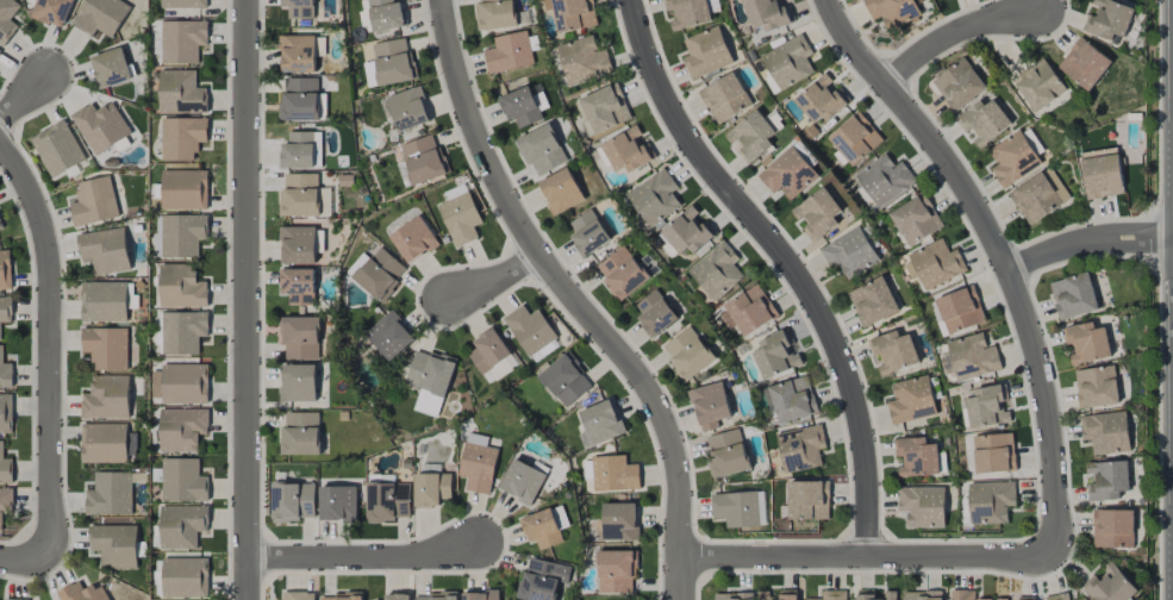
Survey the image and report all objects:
building: (183, 4)
building: (299, 8)
building: (51, 11)
building: (892, 11)
building: (687, 12)
building: (766, 13)
building: (385, 14)
building: (495, 14)
building: (573, 14)
building: (100, 15)
building: (7, 19)
building: (1108, 19)
road: (953, 35)
building: (182, 40)
building: (0, 51)
building: (300, 52)
building: (508, 52)
building: (706, 52)
building: (584, 60)
building: (788, 62)
building: (386, 63)
building: (1082, 63)
building: (111, 68)
building: (959, 83)
building: (1038, 85)
building: (181, 93)
building: (725, 98)
road: (25, 99)
building: (299, 99)
building: (821, 99)
building: (520, 106)
building: (407, 108)
building: (605, 108)
building: (774, 120)
building: (984, 121)
building: (100, 126)
building: (751, 136)
building: (182, 137)
building: (855, 138)
building: (57, 149)
building: (298, 150)
building: (542, 150)
building: (626, 150)
building: (1012, 158)
building: (423, 160)
building: (787, 174)
building: (1102, 174)
building: (884, 180)
building: (183, 189)
building: (561, 190)
building: (300, 194)
building: (1038, 195)
building: (655, 198)
building: (94, 201)
building: (817, 213)
building: (460, 219)
building: (916, 219)
building: (0, 226)
building: (587, 232)
building: (686, 232)
building: (182, 235)
building: (413, 239)
road: (1088, 242)
building: (299, 244)
building: (104, 250)
building: (849, 252)
road: (1003, 255)
building: (936, 263)
building: (356, 264)
road: (790, 264)
building: (5, 270)
building: (717, 270)
building: (622, 273)
building: (380, 274)
road: (498, 282)
building: (298, 286)
building: (181, 287)
building: (1073, 295)
road: (245, 300)
building: (104, 301)
road: (572, 301)
building: (873, 301)
building: (5, 310)
building: (750, 310)
building: (960, 310)
building: (655, 313)
building: (529, 329)
building: (182, 332)
building: (389, 335)
building: (300, 337)
building: (1086, 343)
road: (51, 345)
building: (106, 348)
building: (487, 350)
building: (544, 351)
building: (687, 352)
building: (892, 352)
building: (775, 356)
building: (969, 357)
building: (500, 369)
building: (5, 371)
building: (430, 380)
building: (564, 380)
building: (298, 382)
building: (181, 383)
building: (1096, 387)
building: (106, 398)
building: (793, 399)
building: (911, 400)
building: (710, 406)
building: (985, 407)
building: (6, 413)
building: (601, 421)
building: (182, 429)
building: (1106, 432)
building: (300, 433)
building: (476, 438)
building: (104, 443)
building: (800, 448)
building: (726, 452)
building: (993, 452)
building: (916, 457)
building: (5, 467)
building: (478, 467)
building: (614, 474)
building: (182, 480)
building: (1106, 480)
building: (522, 481)
building: (431, 489)
building: (110, 494)
building: (807, 500)
building: (293, 501)
building: (387, 501)
building: (990, 501)
building: (5, 504)
building: (338, 504)
building: (922, 506)
building: (738, 508)
building: (560, 517)
building: (619, 521)
building: (182, 525)
building: (541, 529)
building: (1112, 529)
building: (114, 545)
road: (26, 558)
road: (362, 560)
road: (869, 561)
building: (616, 571)
building: (185, 577)
building: (543, 579)
building: (1110, 586)
building: (82, 593)
building: (788, 594)
building: (298, 595)
building: (480, 595)
building: (762, 595)
building: (831, 595)
building: (865, 595)
building: (888, 595)
building: (922, 595)
building: (963, 595)
building: (341, 596)
building: (397, 596)
building: (436, 596)
building: (732, 596)
building: (1057, 596)
building: (1025, 598)
building: (14, 599)
building: (1002, 599)
building: (1081, 599)

